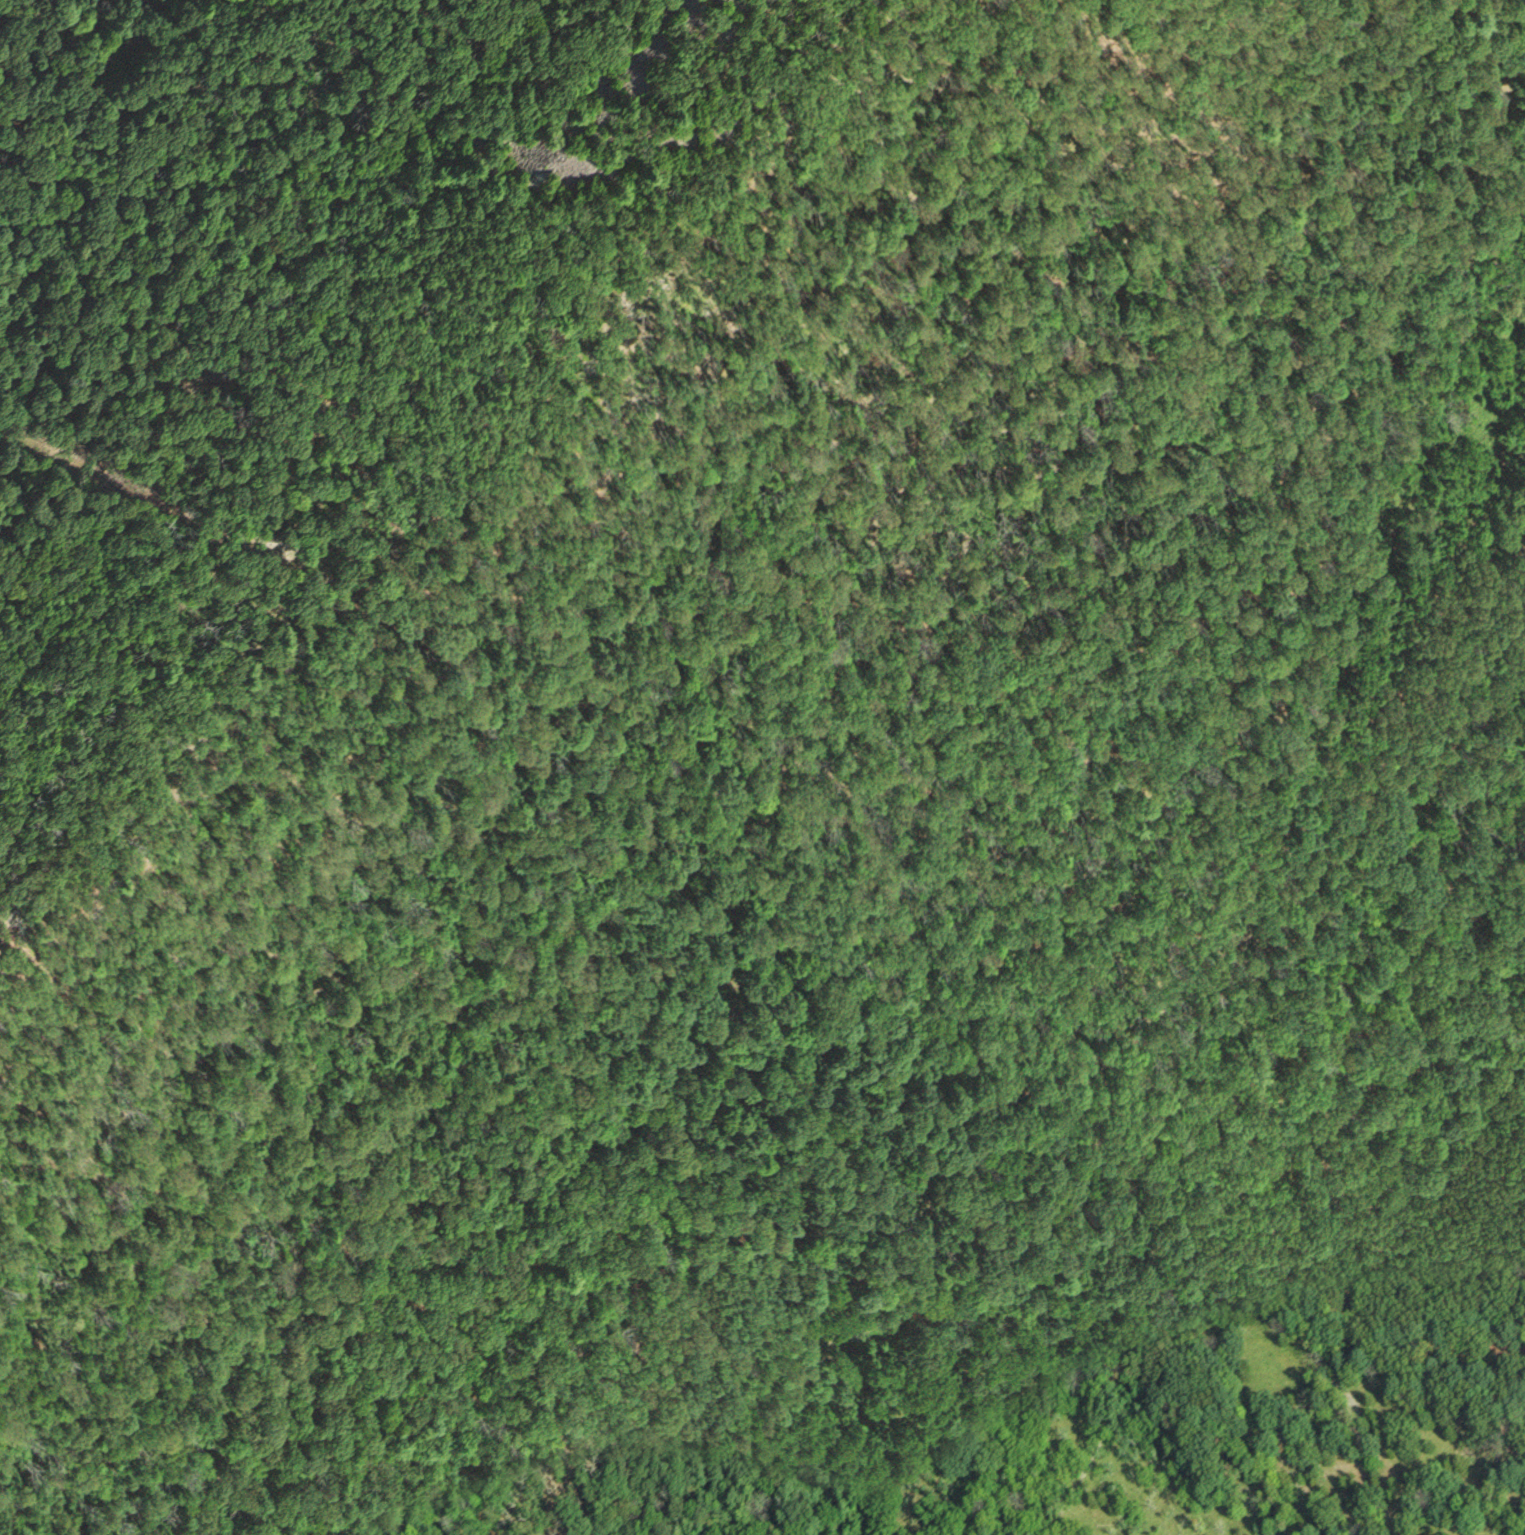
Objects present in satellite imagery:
road: (124, 107)

